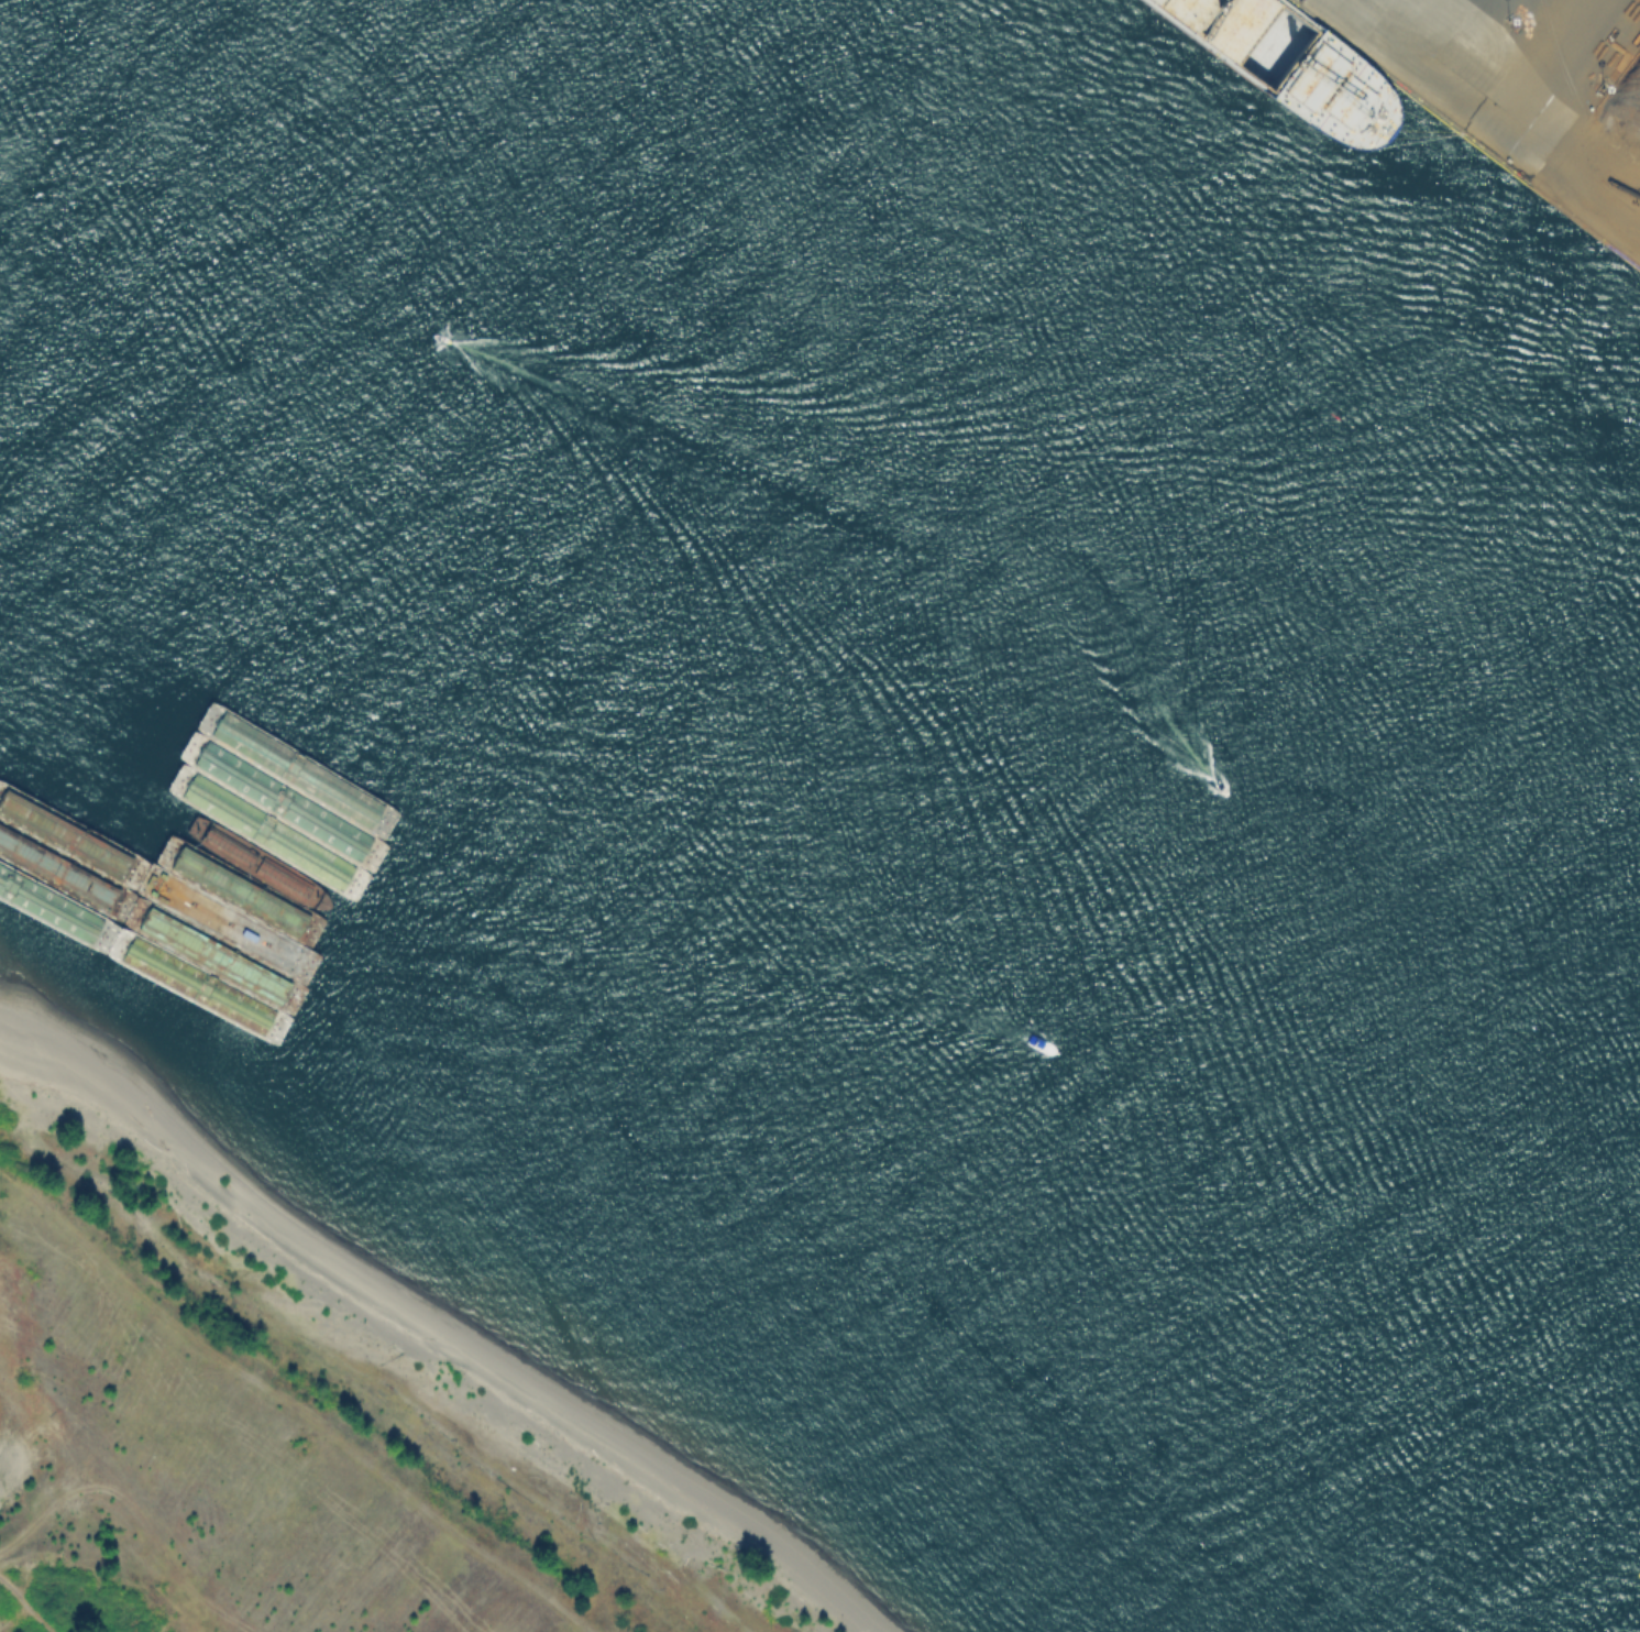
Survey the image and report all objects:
pier: (1411, 58)
railway: (1563, 108)
pier: (1565, 174)
river: (819, 770)
road: (27, 1607)

